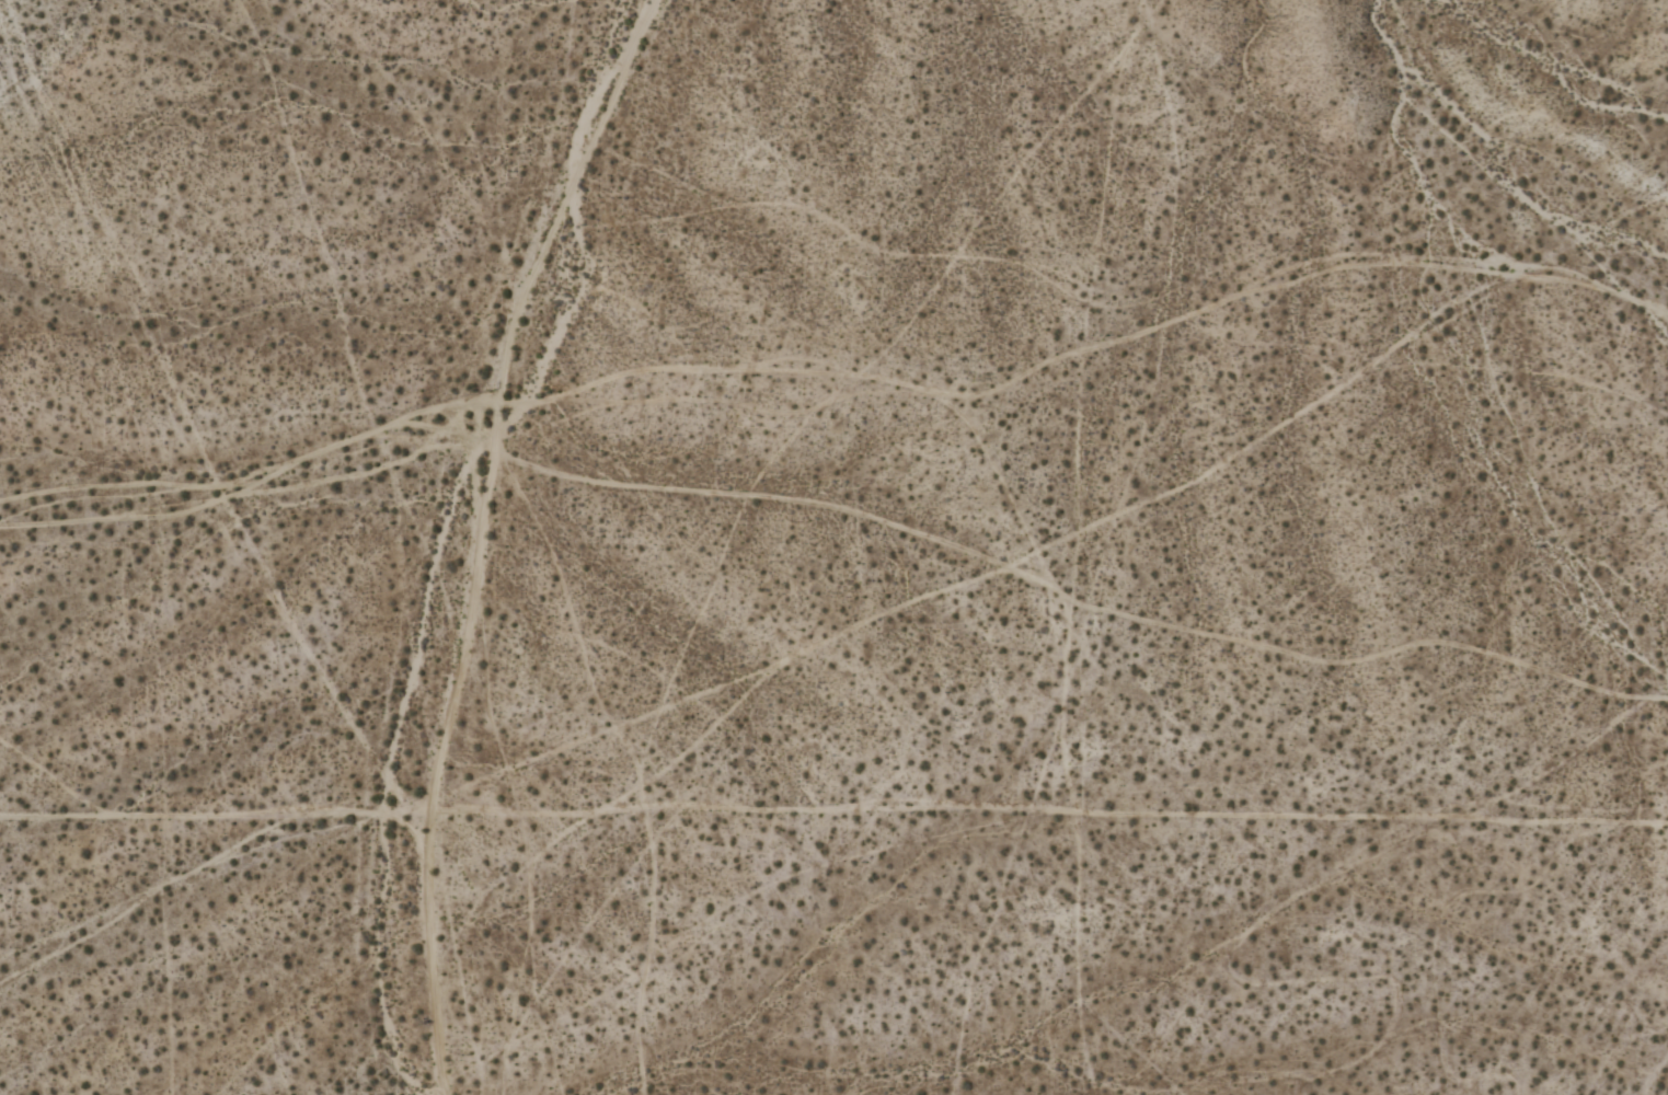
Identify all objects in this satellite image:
crop: (835, 826)

